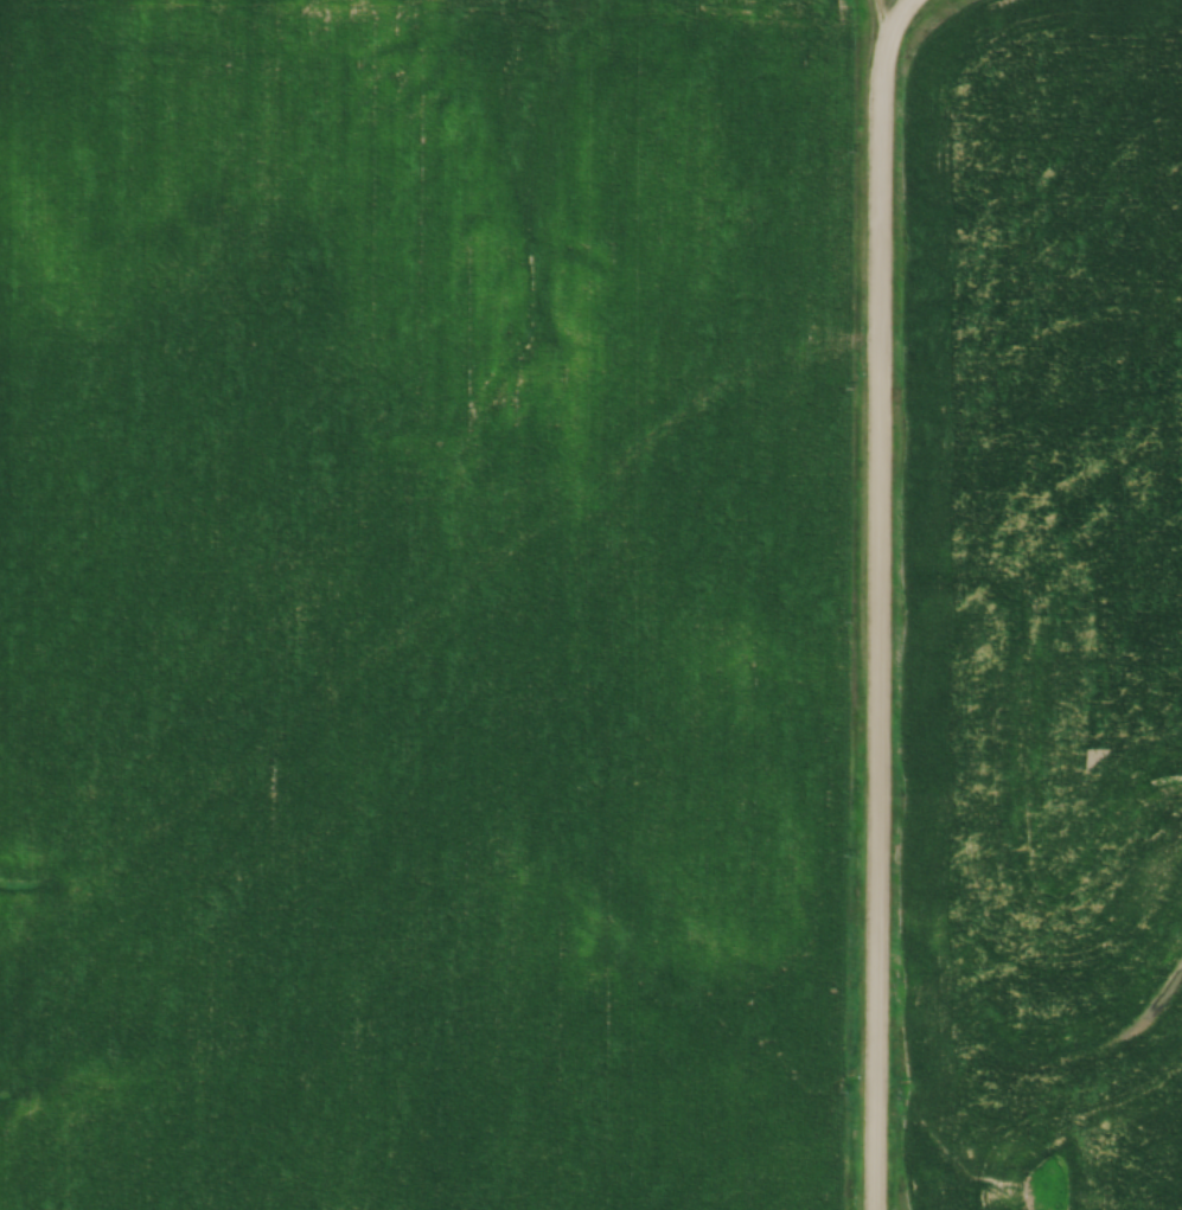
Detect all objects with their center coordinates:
road: (874, 600)

